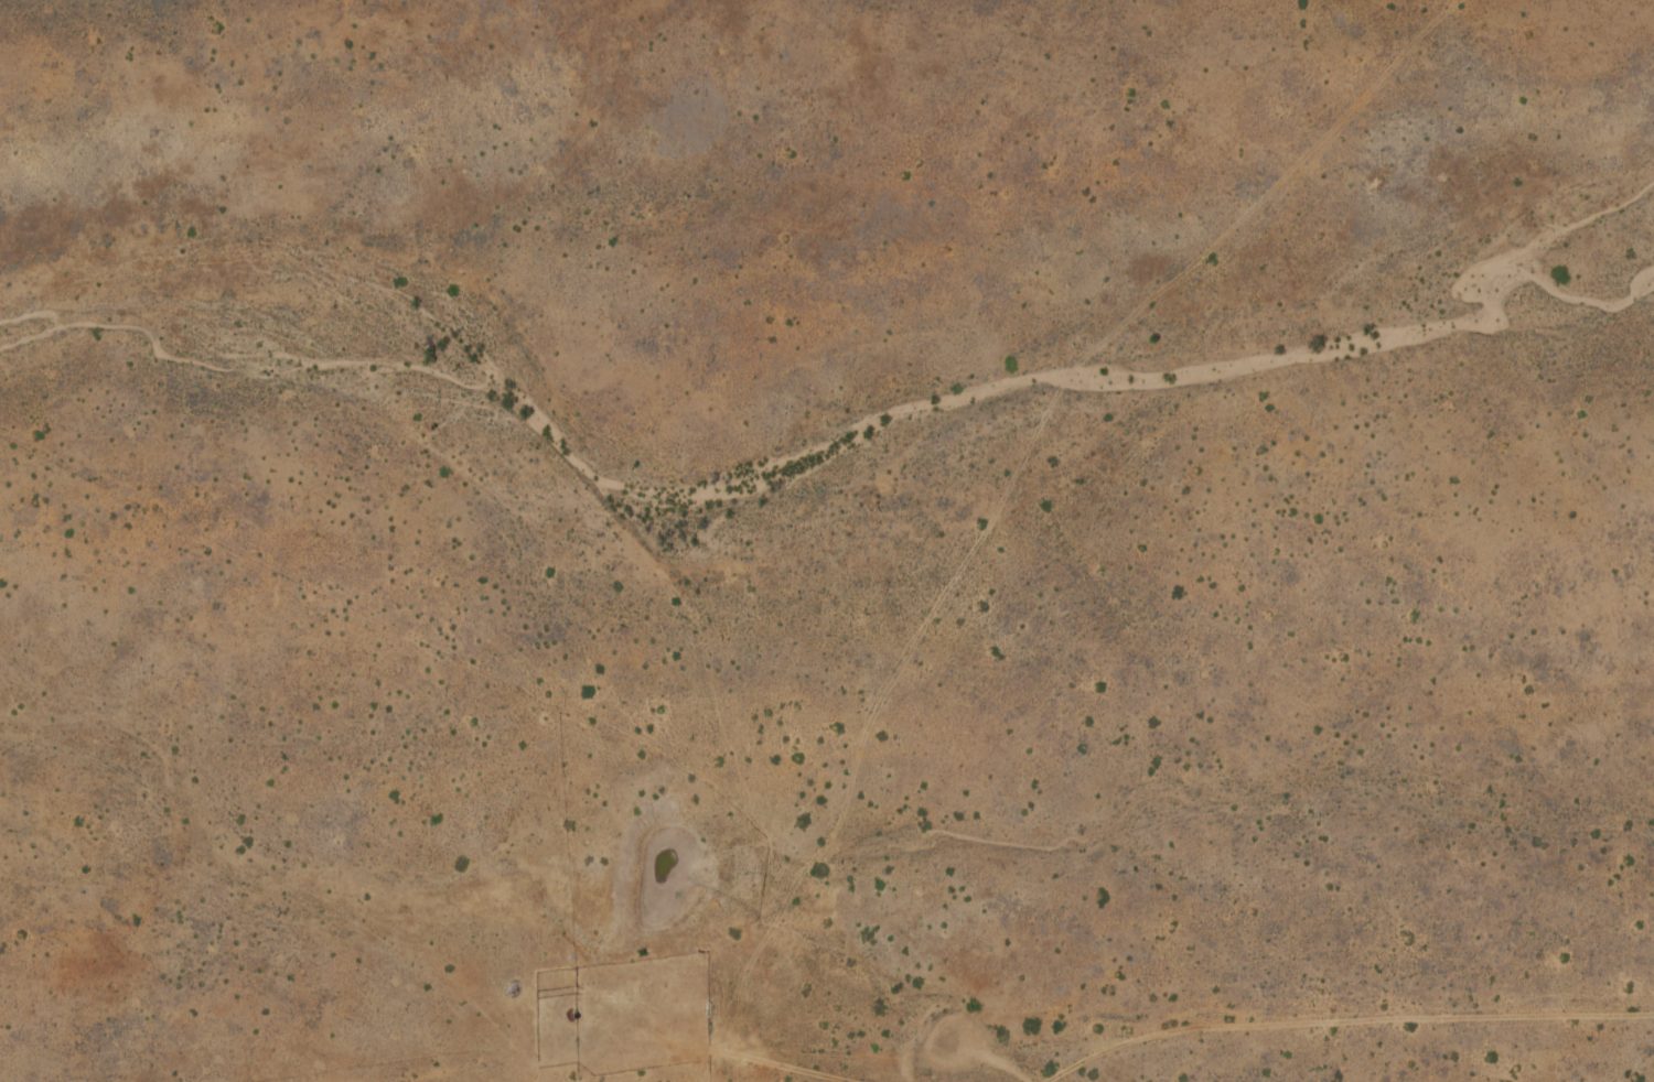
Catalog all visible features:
road: (825, 1029)

